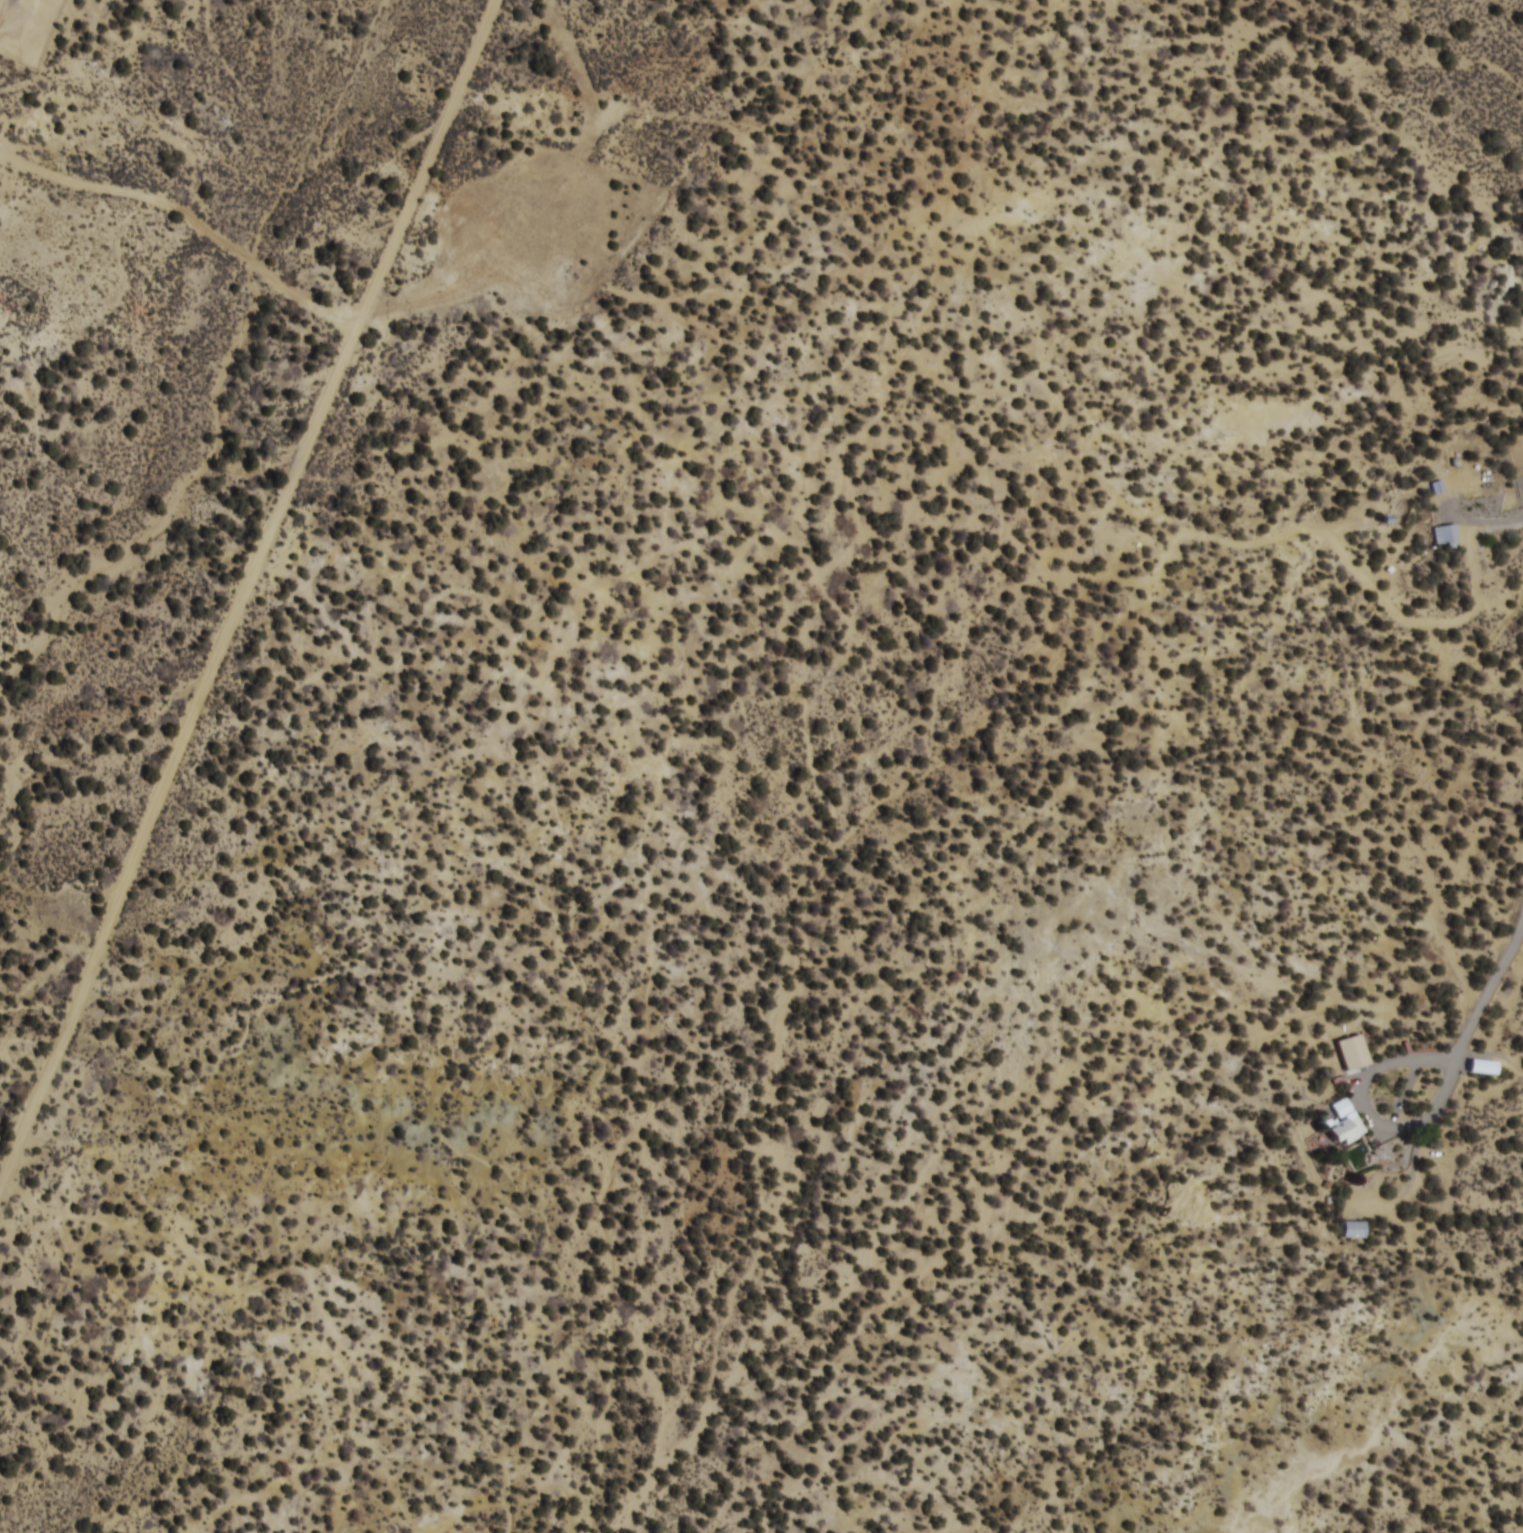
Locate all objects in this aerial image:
road: (378, 310)
building: (1466, 481)
building: (1117, 532)
building: (1448, 538)
road: (238, 585)
road: (1334, 592)
building: (1348, 1132)

